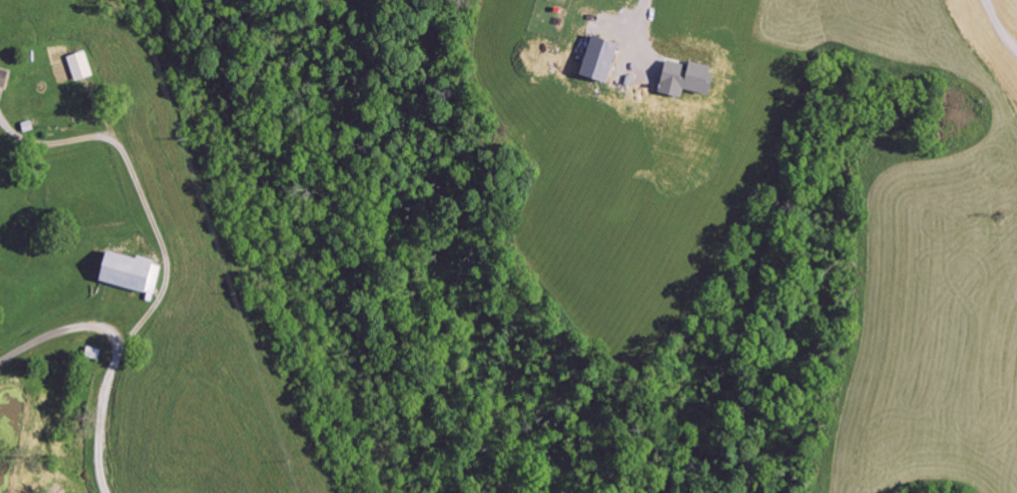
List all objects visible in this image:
road: (642, 19)
road: (999, 23)
building: (595, 60)
building: (85, 66)
building: (6, 77)
building: (681, 79)
building: (134, 270)
road: (165, 284)
road: (63, 330)

